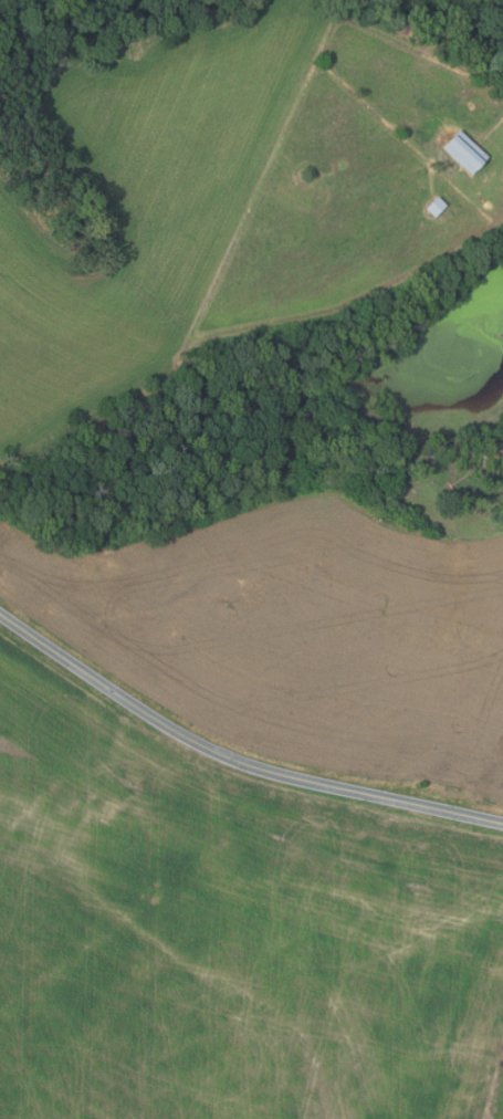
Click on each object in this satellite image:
crop: (182, 138)
building: (467, 151)
building: (437, 206)
crop: (63, 328)
crop: (296, 636)
road: (233, 760)
crop: (228, 934)

